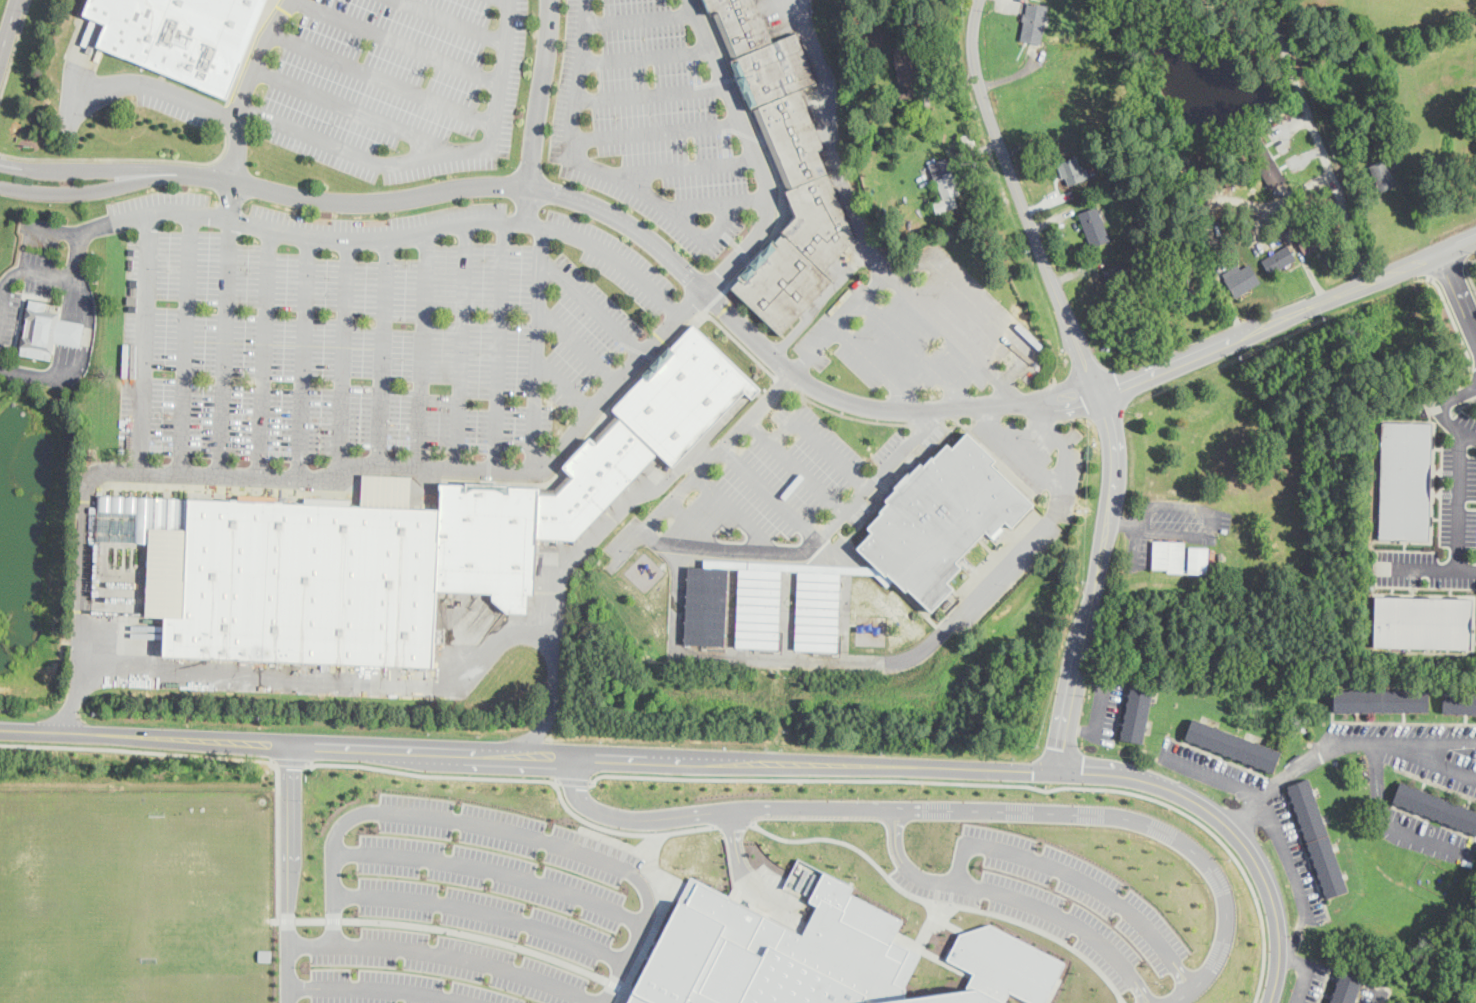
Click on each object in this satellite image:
road: (638, 15)
road: (457, 19)
building: (1033, 22)
road: (8, 29)
building: (176, 36)
road: (398, 41)
road: (14, 48)
road: (643, 52)
building: (908, 63)
road: (380, 76)
parking lot: (397, 85)
road: (649, 90)
parking lot: (174, 100)
road: (243, 103)
road: (347, 108)
road: (538, 108)
parking lot: (649, 120)
road: (655, 130)
road: (1318, 140)
road: (349, 149)
road: (128, 158)
building: (1265, 160)
road: (682, 165)
road: (110, 166)
building: (782, 168)
building: (1071, 170)
road: (608, 171)
building: (1384, 172)
building: (945, 184)
road: (110, 186)
road: (851, 192)
road: (701, 199)
road: (1020, 200)
road: (469, 219)
road: (91, 223)
building: (1094, 225)
road: (646, 237)
building: (1309, 240)
building: (1278, 258)
road: (878, 261)
road: (1449, 270)
road: (1469, 271)
building: (1117, 277)
building: (1240, 277)
road: (1459, 286)
road: (591, 306)
road: (1287, 315)
road: (842, 320)
road: (1456, 325)
parking lot: (368, 328)
building: (1136, 329)
building: (47, 330)
parking lot: (922, 333)
road: (141, 340)
road: (184, 340)
road: (460, 343)
road: (499, 343)
road: (740, 343)
road: (222, 344)
road: (535, 345)
road: (579, 345)
road: (421, 347)
road: (379, 349)
road: (262, 350)
road: (919, 352)
road: (343, 355)
road: (300, 356)
road: (81, 358)
road: (878, 367)
road: (999, 378)
road: (1063, 384)
road: (565, 385)
road: (1006, 392)
building: (684, 394)
road: (1437, 404)
road: (1065, 408)
road: (849, 415)
building: (607, 427)
road: (818, 440)
road: (1016, 446)
road: (467, 466)
road: (796, 466)
building: (593, 480)
building: (1405, 480)
parking lot: (754, 485)
road: (1460, 494)
road: (769, 496)
road: (678, 499)
parking lot: (1444, 514)
building: (943, 517)
road: (1121, 524)
parking lot: (1179, 525)
road: (750, 529)
road: (1208, 532)
building: (489, 540)
building: (1179, 556)
road: (1427, 568)
building: (309, 582)
road: (1095, 582)
building: (766, 602)
road: (552, 611)
building: (1419, 620)
road: (915, 626)
road: (325, 680)
building: (1380, 699)
building: (1459, 701)
building: (1137, 709)
road: (1430, 739)
building: (1232, 744)
traffic signals: (1059, 748)
road: (136, 750)
road: (717, 759)
road: (289, 761)
road: (1428, 761)
road: (1298, 765)
traffic signals: (1033, 770)
traffic signals: (1082, 772)
road: (522, 778)
road: (574, 781)
road: (999, 783)
road: (1266, 805)
building: (1435, 806)
road: (712, 810)
road: (430, 816)
road: (1141, 821)
road: (733, 823)
road: (1387, 825)
building: (1317, 837)
road: (278, 839)
road: (491, 869)
road: (288, 873)
road: (1078, 878)
road: (1017, 897)
road: (942, 902)
road: (483, 910)
road: (635, 937)
road: (1295, 937)
road: (449, 953)
building: (778, 953)
road: (1295, 959)
building: (1005, 963)
road: (1303, 984)
building: (1347, 986)
road: (378, 989)
building: (952, 997)
road: (1378, 997)

